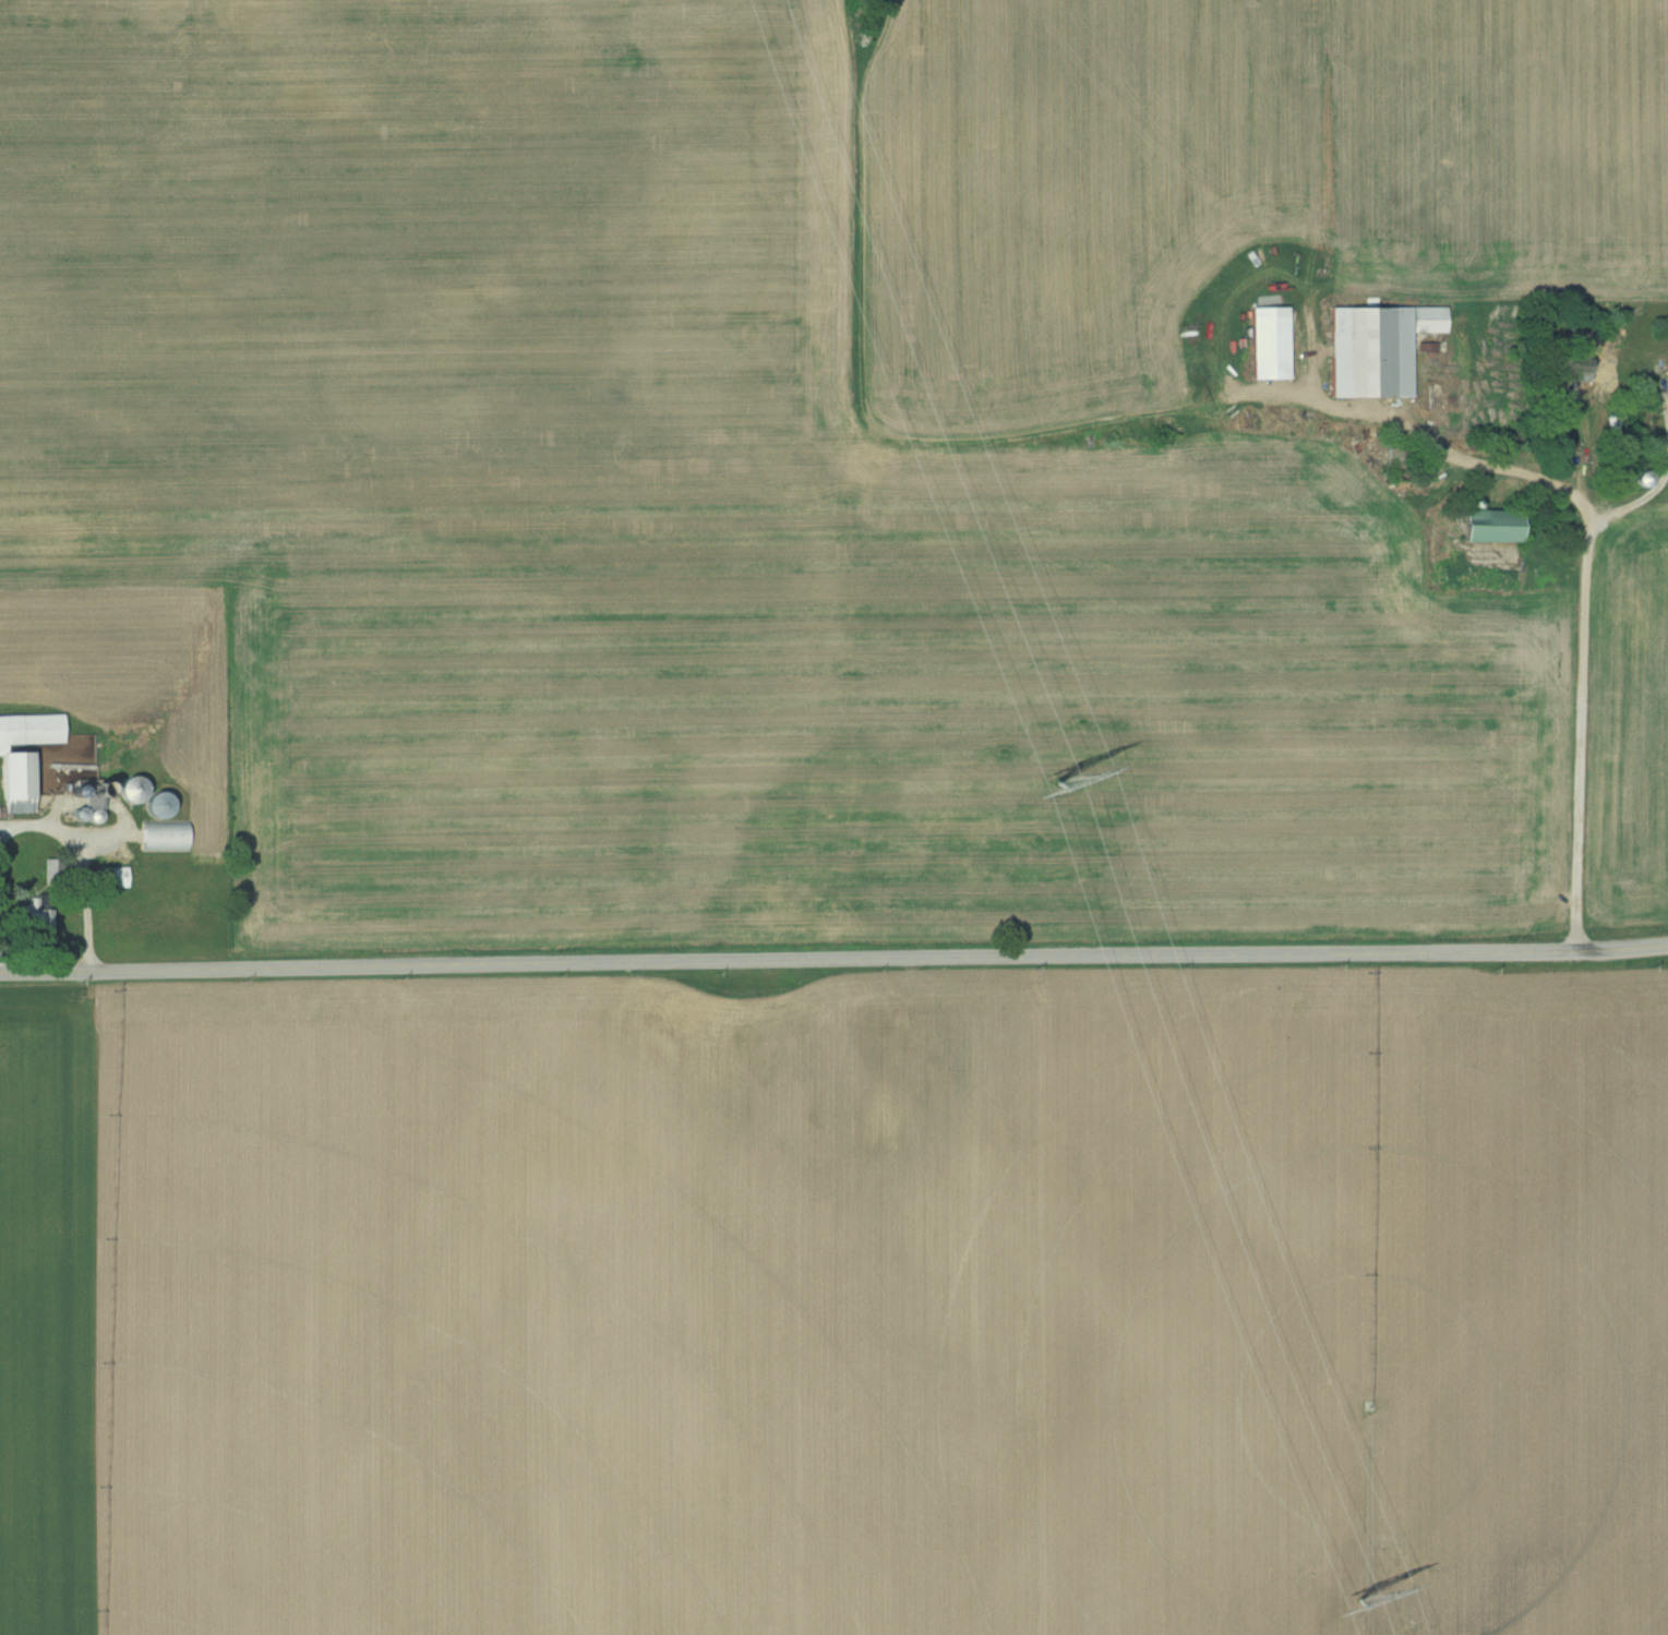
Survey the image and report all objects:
building: (1269, 344)
building: (1377, 349)
building: (1564, 368)
road: (1499, 472)
road: (1664, 477)
building: (1487, 526)
road: (1576, 734)
building: (23, 757)
power tower: (1052, 780)
road: (80, 869)
building: (34, 917)
road: (833, 959)
power tower: (1356, 1598)

